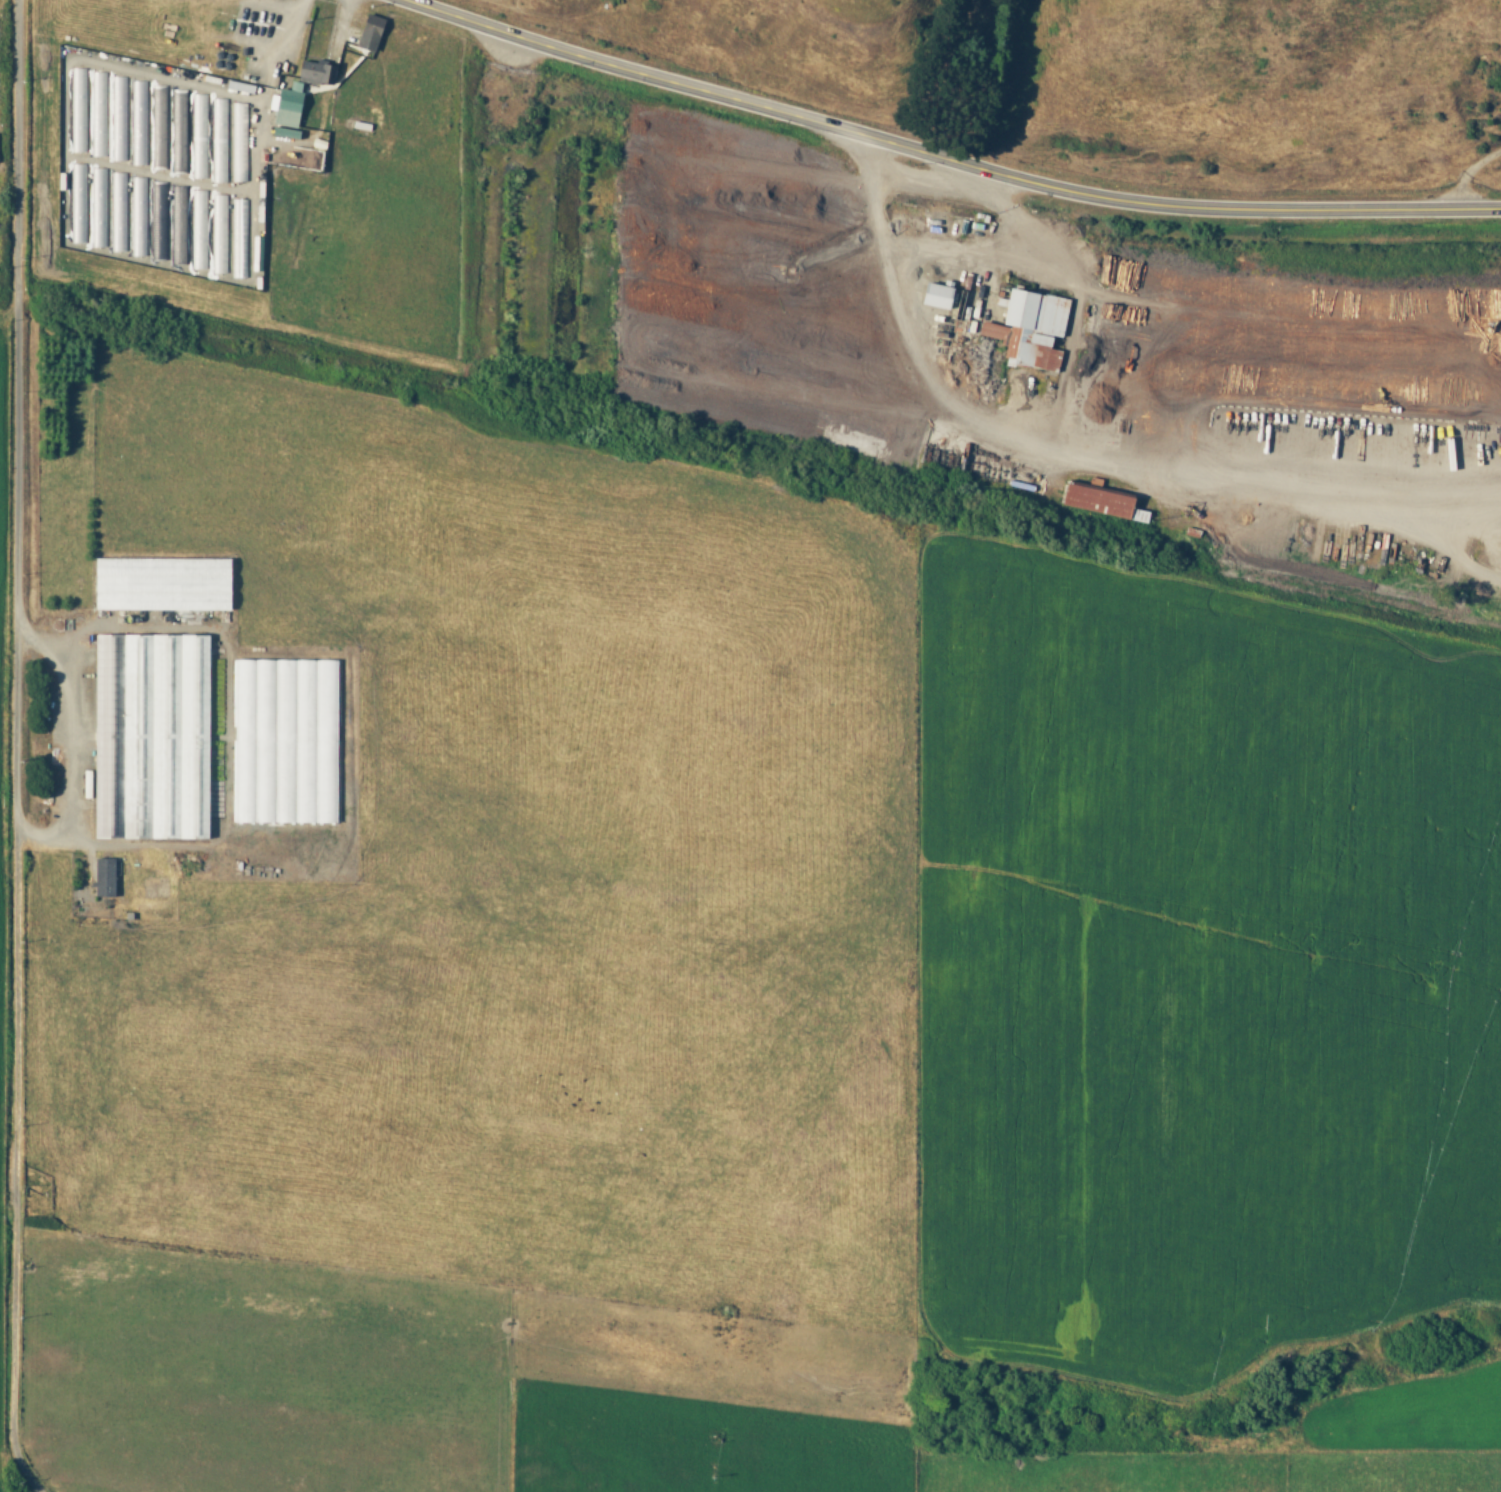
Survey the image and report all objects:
building: (376, 33)
building: (322, 73)
building: (141, 100)
building: (81, 111)
building: (293, 112)
building: (102, 115)
building: (121, 119)
building: (182, 132)
building: (202, 136)
building: (143, 141)
building: (221, 141)
road: (935, 158)
road: (1465, 175)
building: (121, 212)
building: (239, 212)
building: (141, 217)
building: (162, 219)
building: (181, 225)
building: (202, 230)
building: (222, 234)
building: (934, 295)
building: (1028, 328)
building: (1098, 502)
building: (167, 585)
building: (283, 717)
road: (18, 750)
building: (109, 878)

